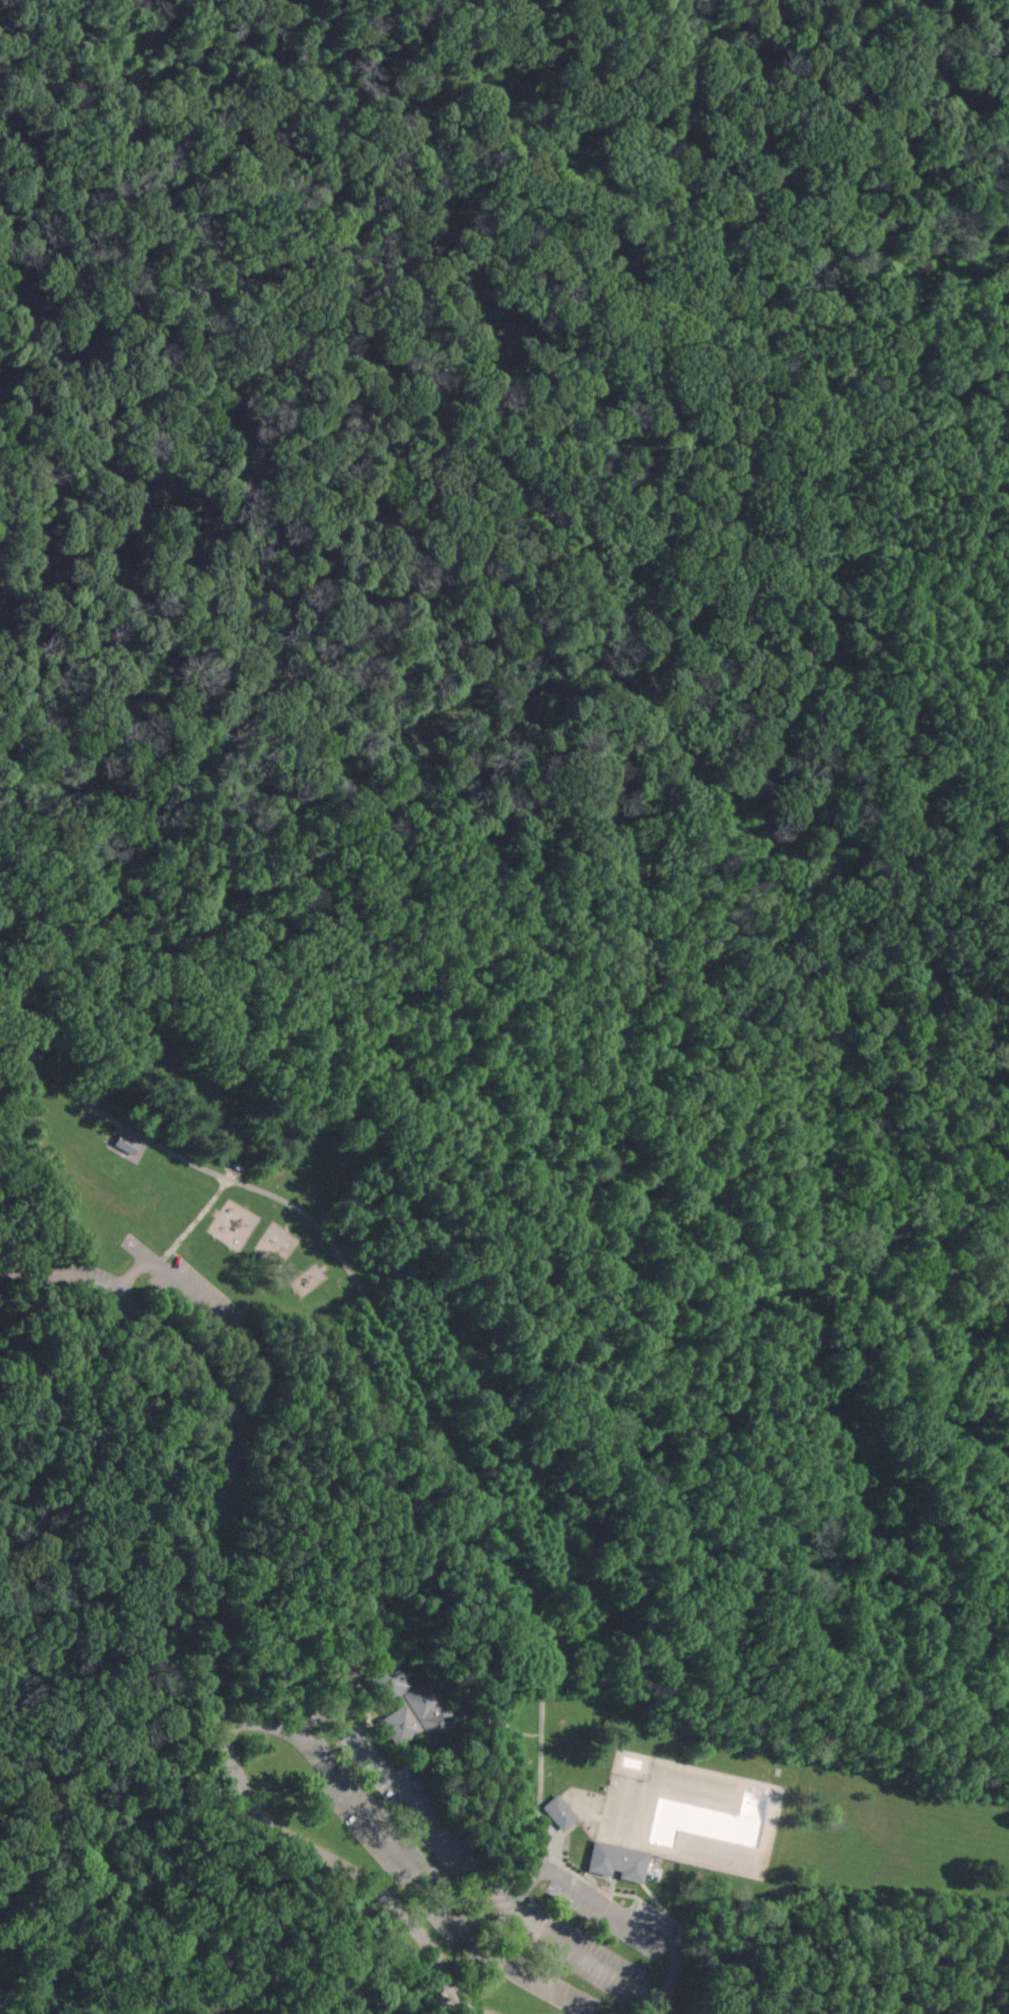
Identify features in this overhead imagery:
road: (346, 322)
building: (124, 1142)
parking lot: (54, 1272)
parking lot: (190, 1292)
road: (220, 1315)
road: (384, 1333)
building: (25, 1383)
road: (437, 1589)
road: (211, 1631)
road: (349, 1682)
building: (389, 1682)
road: (364, 1698)
building: (421, 1717)
road: (371, 1718)
road: (513, 1728)
building: (561, 1813)
building: (707, 1820)
parking lot: (408, 1830)
road: (440, 1834)
building: (618, 1862)
road: (427, 1887)
road: (576, 1889)
parking lot: (586, 1947)
road: (448, 1999)

